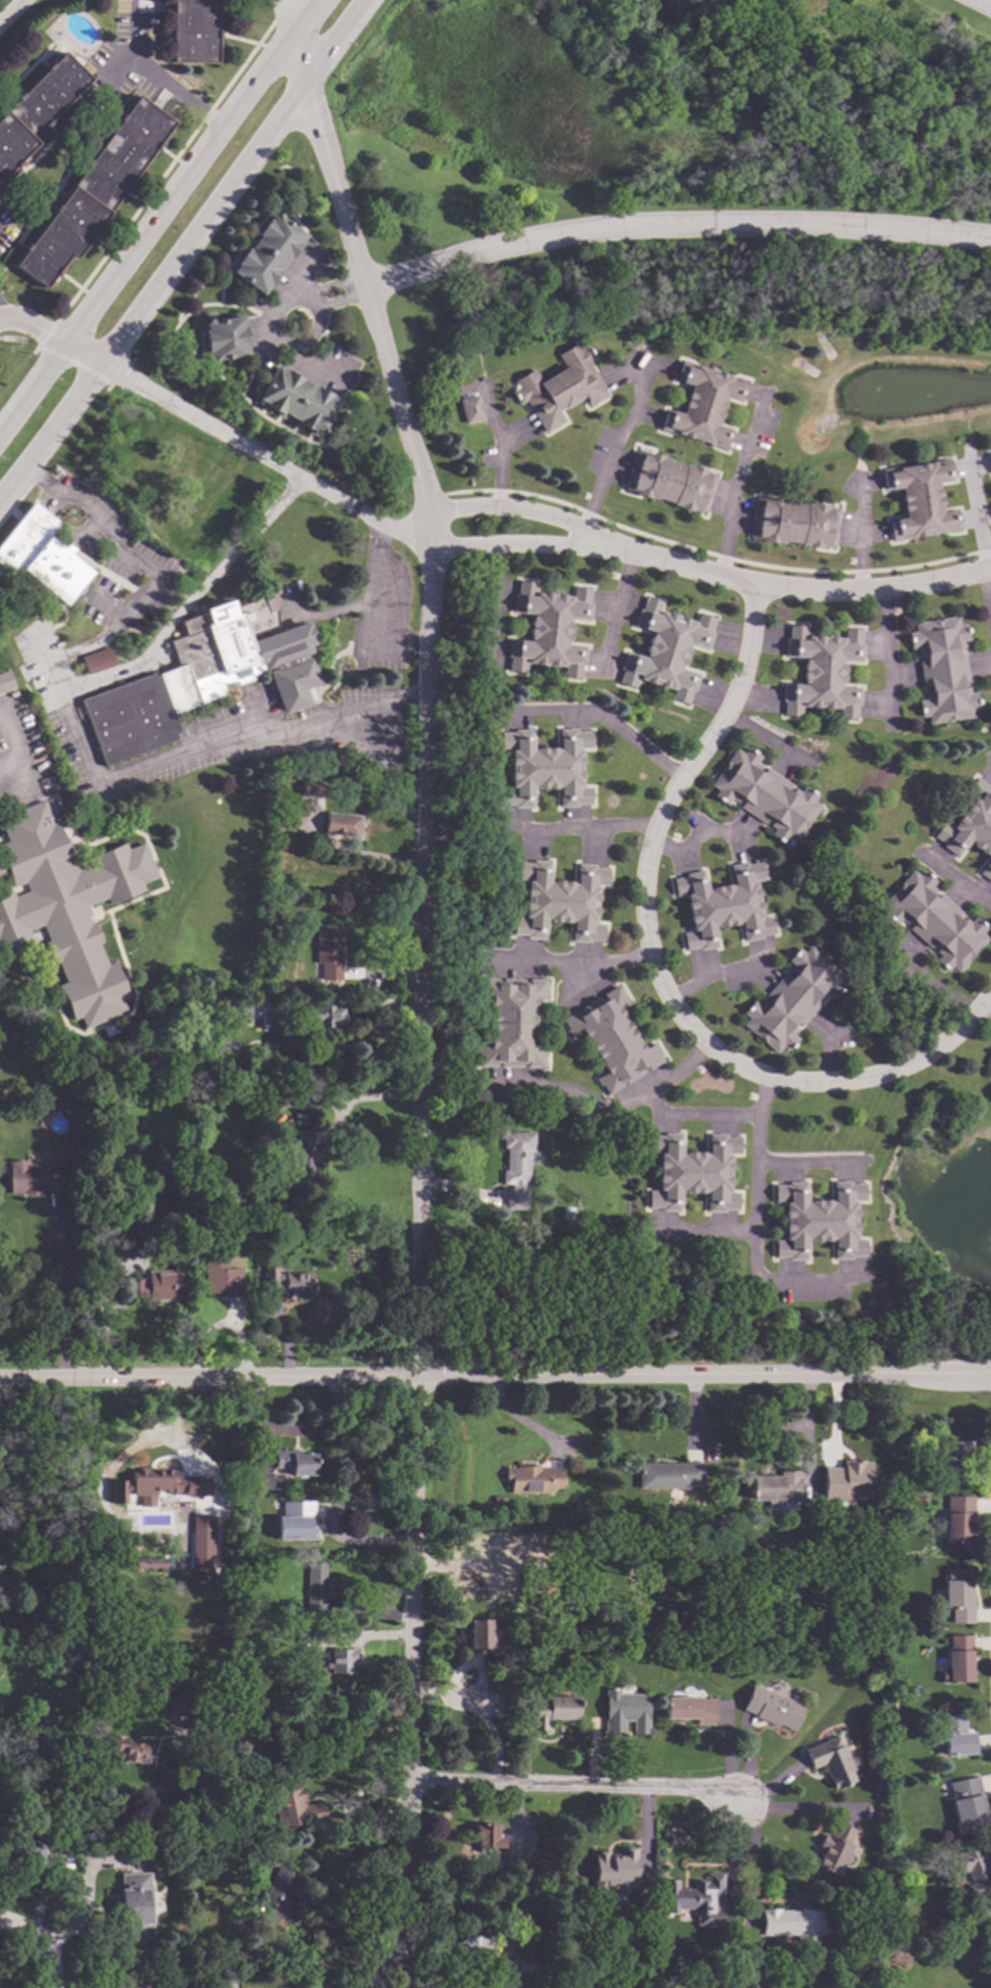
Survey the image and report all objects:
road: (983, 4)
road: (280, 10)
road: (12, 12)
road: (289, 12)
building: (193, 31)
road: (150, 74)
river: (792, 101)
building: (36, 108)
park: (663, 160)
road: (163, 171)
building: (93, 191)
road: (155, 213)
road: (673, 229)
building: (266, 252)
road: (187, 253)
road: (44, 333)
building: (224, 338)
road: (59, 358)
building: (558, 386)
building: (297, 399)
building: (702, 404)
building: (470, 408)
road: (499, 445)
road: (254, 450)
road: (612, 450)
building: (990, 459)
building: (153, 474)
building: (669, 481)
building: (119, 486)
road: (736, 486)
building: (192, 490)
building: (919, 499)
road: (501, 507)
road: (977, 512)
building: (793, 522)
building: (178, 533)
road: (862, 535)
road: (501, 545)
building: (40, 555)
building: (198, 565)
road: (783, 584)
road: (987, 586)
road: (379, 589)
road: (189, 600)
road: (617, 610)
building: (548, 629)
building: (666, 650)
road: (883, 654)
building: (97, 660)
building: (942, 669)
building: (821, 671)
building: (203, 676)
building: (5, 681)
road: (603, 722)
road: (75, 731)
road: (17, 749)
building: (543, 767)
building: (312, 789)
building: (763, 795)
building: (341, 824)
building: (971, 826)
road: (582, 830)
road: (952, 878)
building: (559, 901)
building: (66, 905)
building: (722, 905)
building: (932, 920)
building: (328, 952)
road: (587, 959)
road: (655, 976)
road: (712, 978)
road: (928, 984)
building: (281, 986)
road: (418, 997)
building: (791, 999)
building: (239, 1015)
building: (322, 1015)
building: (511, 1022)
building: (611, 1039)
road: (827, 1050)
building: (990, 1057)
building: (990, 1070)
road: (572, 1092)
building: (268, 1097)
road: (759, 1101)
road: (751, 1147)
building: (304, 1158)
building: (517, 1166)
road: (801, 1169)
building: (692, 1172)
building: (31, 1176)
building: (261, 1190)
building: (567, 1213)
building: (818, 1220)
building: (80, 1229)
building: (221, 1277)
building: (288, 1282)
building: (156, 1285)
road: (62, 1294)
road: (703, 1376)
road: (207, 1379)
road: (519, 1420)
building: (955, 1460)
building: (294, 1461)
building: (668, 1475)
building: (532, 1478)
building: (262, 1481)
building: (845, 1482)
building: (156, 1484)
building: (774, 1488)
building: (957, 1518)
building: (725, 1519)
building: (294, 1521)
road: (330, 1523)
building: (8, 1524)
building: (254, 1538)
building: (201, 1539)
building: (564, 1542)
building: (651, 1543)
building: (64, 1544)
building: (151, 1562)
building: (76, 1572)
building: (533, 1583)
building: (475, 1585)
building: (153, 1589)
building: (315, 1590)
building: (547, 1594)
building: (957, 1595)
building: (307, 1634)
building: (479, 1634)
building: (811, 1639)
building: (509, 1652)
building: (77, 1658)
building: (957, 1659)
building: (340, 1660)
building: (771, 1707)
building: (179, 1709)
building: (549, 1709)
building: (689, 1709)
building: (624, 1710)
building: (954, 1735)
road: (239, 1739)
building: (127, 1750)
building: (829, 1761)
building: (73, 1769)
road: (574, 1786)
building: (294, 1805)
building: (966, 1805)
road: (791, 1811)
building: (486, 1836)
building: (56, 1844)
building: (28, 1847)
building: (832, 1848)
road: (752, 1858)
building: (535, 1863)
building: (614, 1868)
building: (975, 1868)
building: (280, 1896)
building: (695, 1899)
building: (134, 1905)
building: (792, 1923)
road: (26, 1937)
building: (469, 1945)
building: (237, 1957)
building: (526, 1964)
road: (52, 1968)
road: (336, 1972)
building: (537, 1979)
building: (226, 1985)

